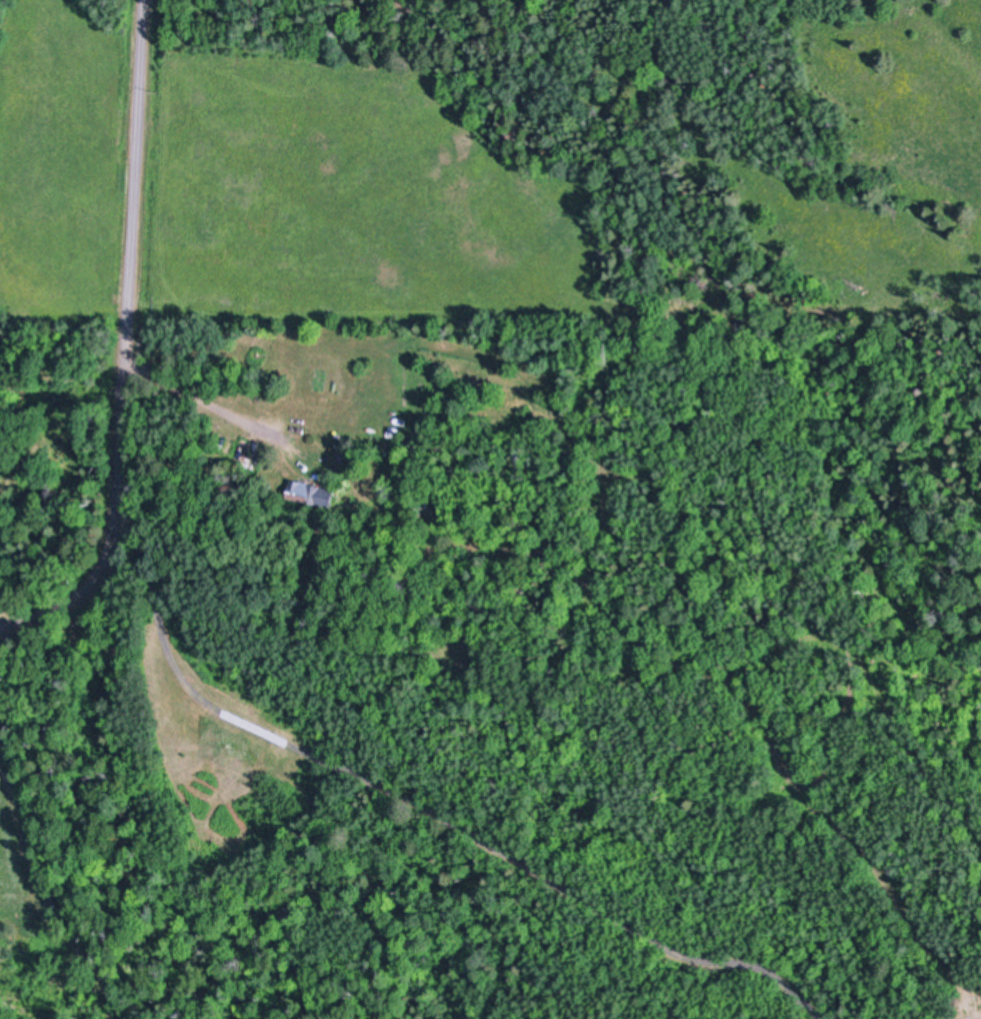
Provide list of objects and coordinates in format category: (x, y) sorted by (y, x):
road: (128, 349)
road: (196, 400)
building: (311, 491)
building: (1, 673)
building: (3, 678)
road: (35, 893)

